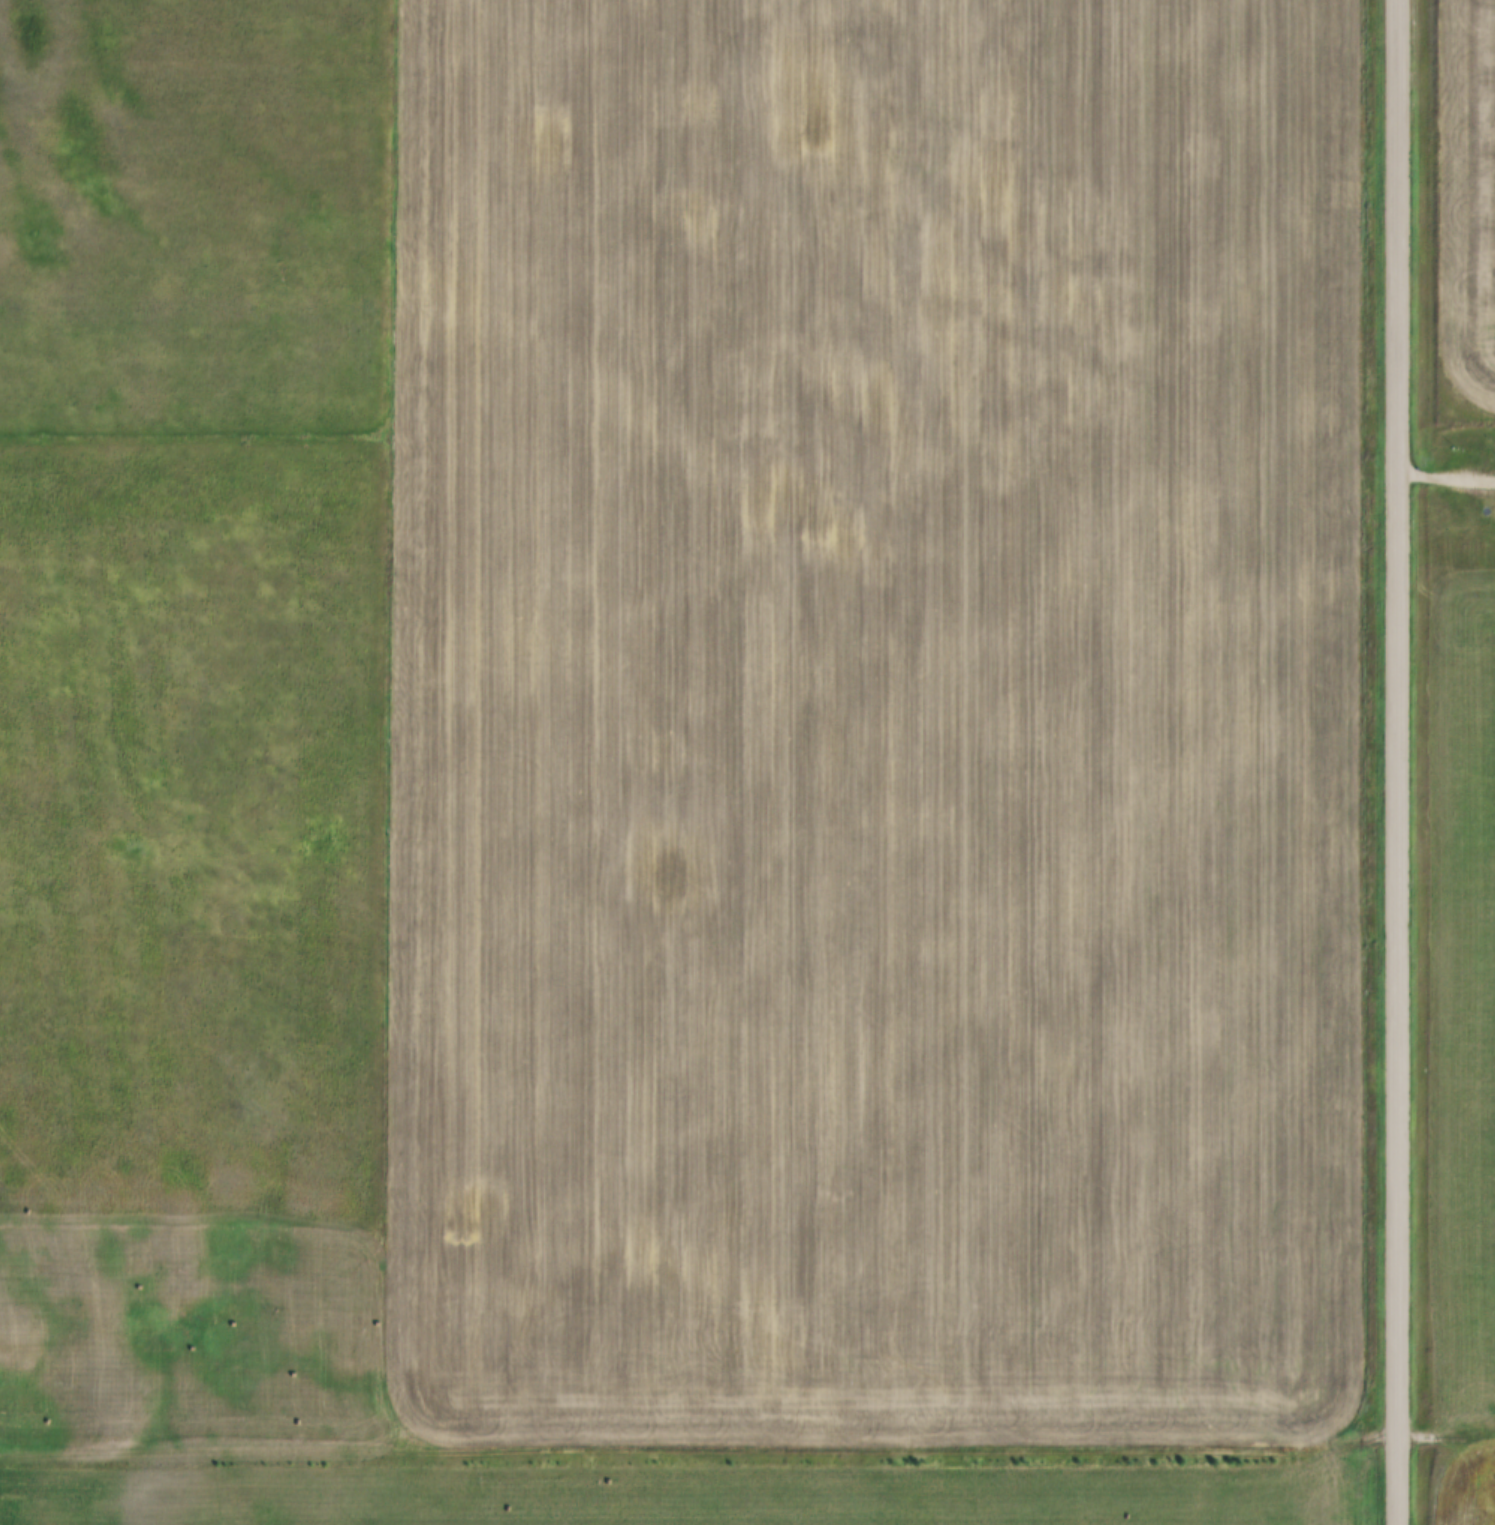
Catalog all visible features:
road: (1399, 762)

